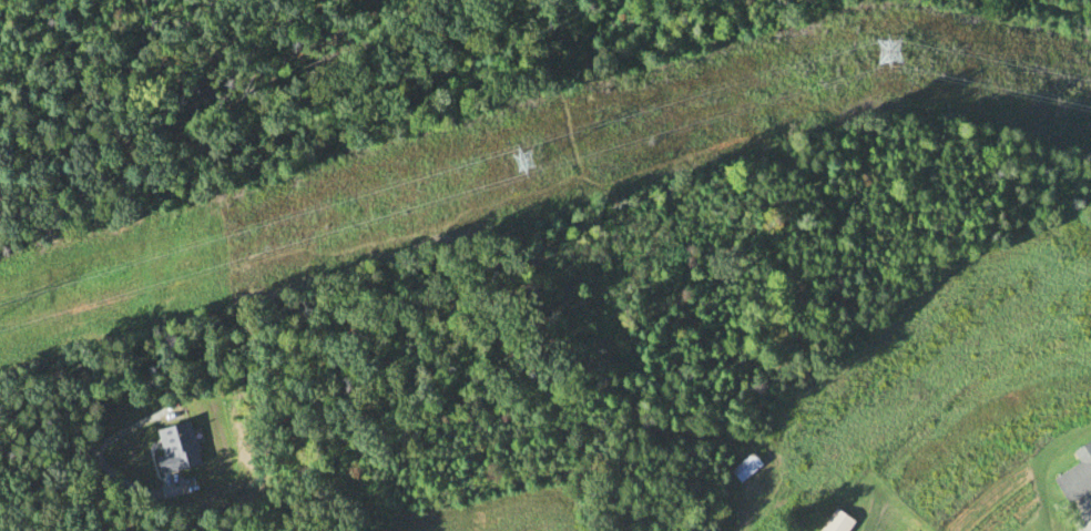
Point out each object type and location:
power tower: (883, 51)
power tower: (519, 157)
building: (172, 449)
road: (64, 469)
building: (742, 469)
building: (1075, 474)
building: (835, 523)

